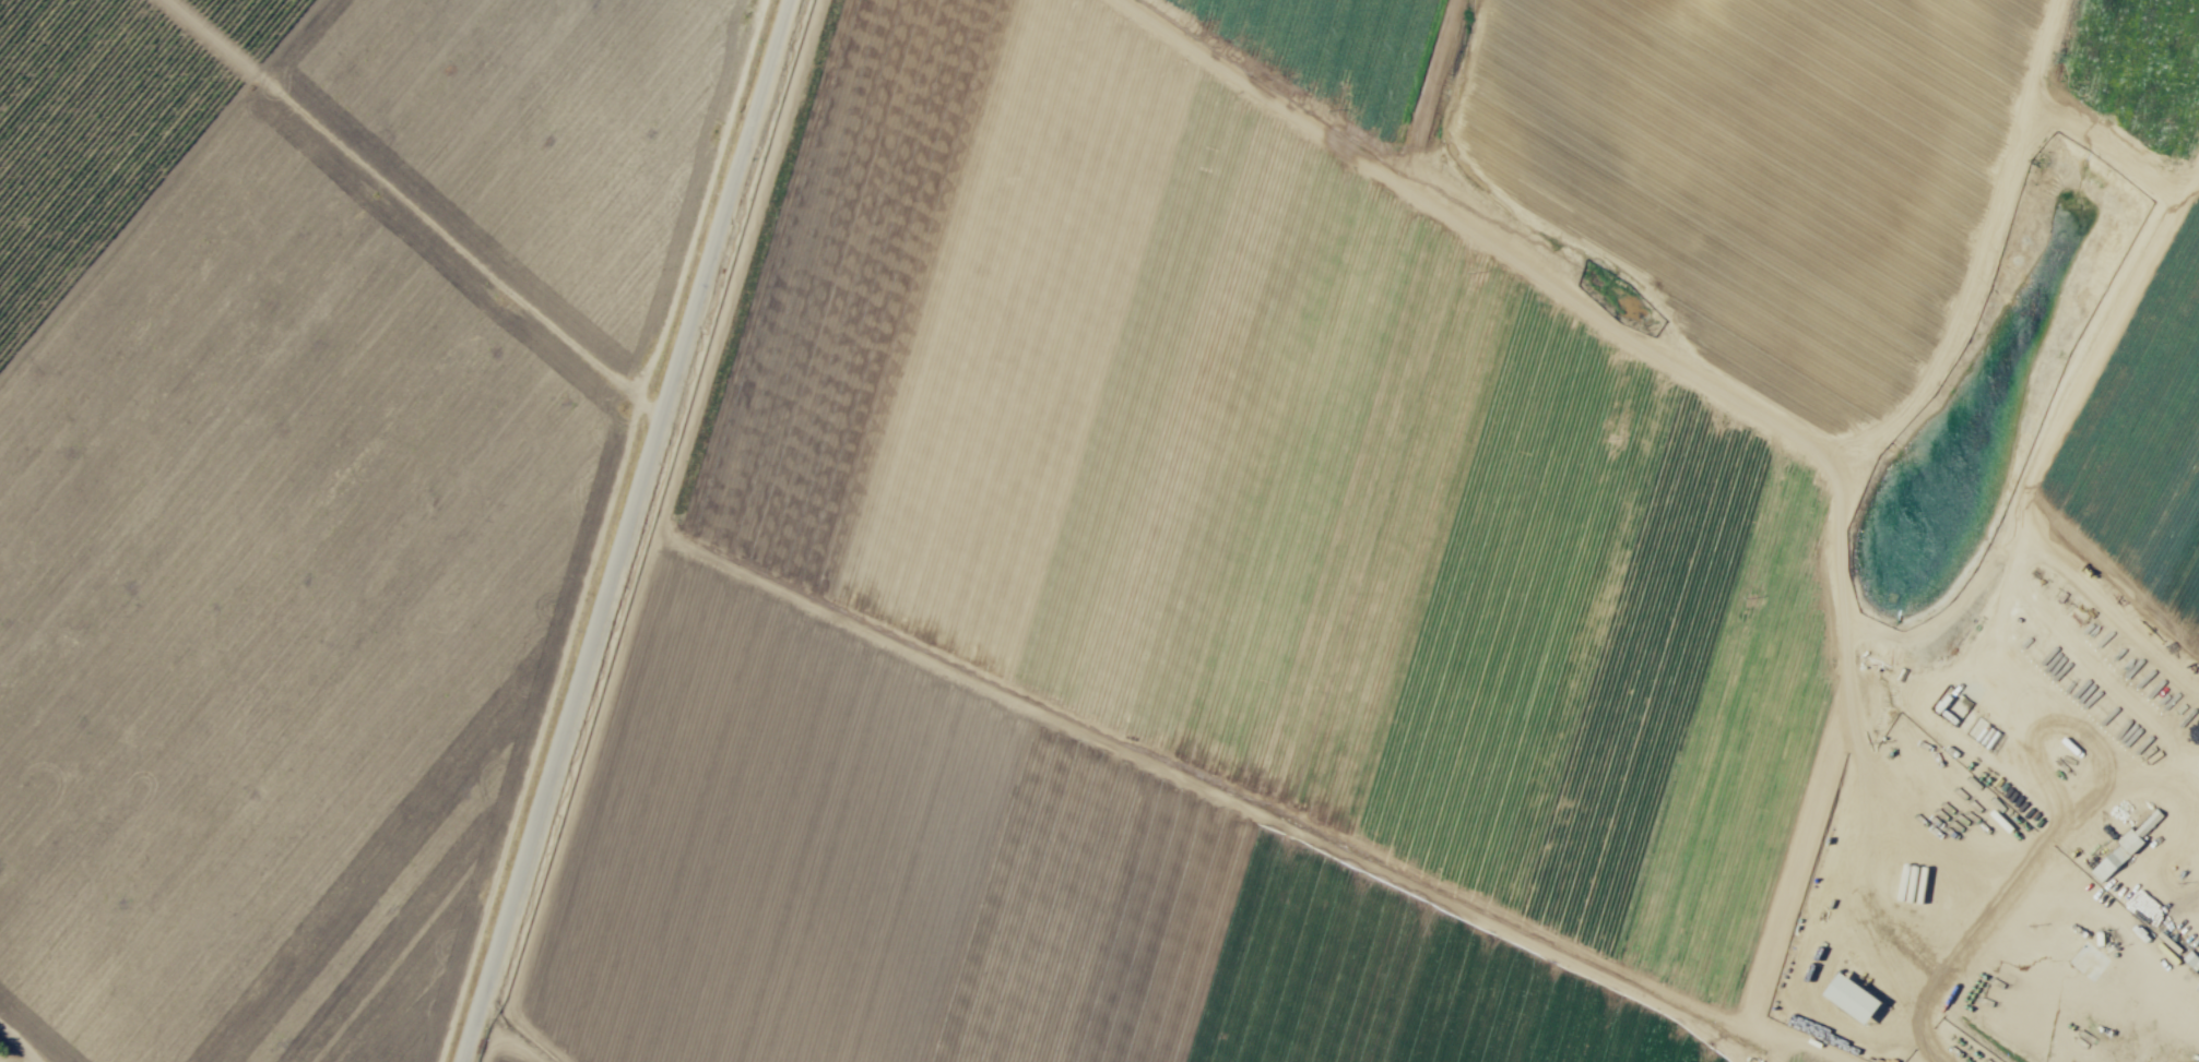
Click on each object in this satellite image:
road: (415, 207)
building: (520, 323)
road: (1719, 393)
crop: (1002, 510)
road: (592, 530)
road: (624, 530)
road: (953, 672)
road: (2077, 763)
building: (2128, 846)
building: (762, 879)
road: (1923, 967)
building: (1849, 1000)
building: (2175, 1005)
road: (2143, 1006)
road: (511, 1035)
road: (20, 1045)
road: (1852, 1046)

